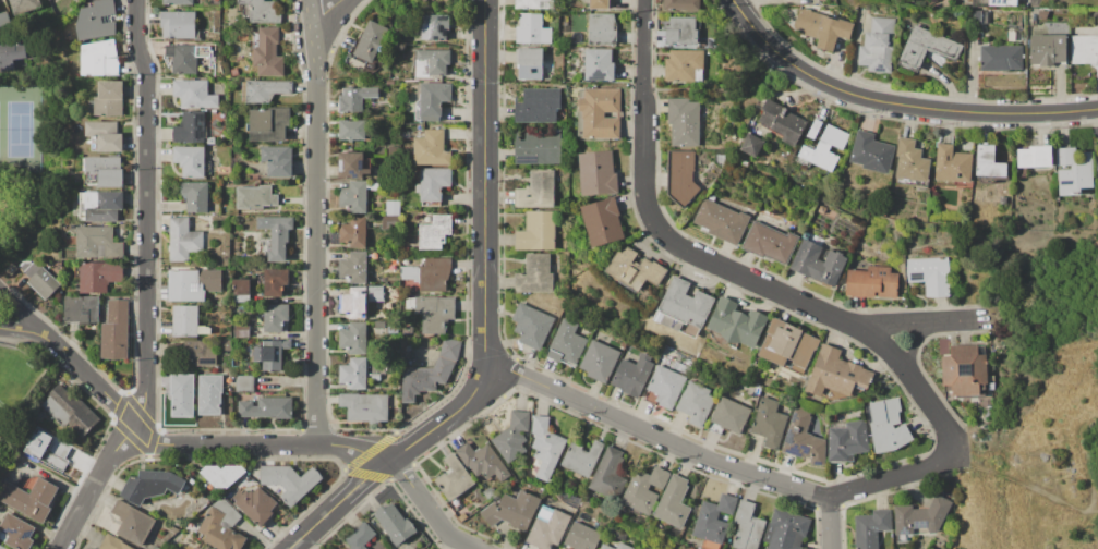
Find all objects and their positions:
building: (50, 0)
building: (424, 0)
building: (431, 0)
building: (178, 2)
building: (1002, 2)
building: (532, 3)
building: (599, 4)
building: (680, 4)
building: (25, 5)
building: (261, 11)
road: (326, 13)
building: (1042, 13)
building: (998, 14)
building: (977, 15)
building: (987, 16)
building: (4, 19)
building: (97, 20)
building: (178, 25)
building: (433, 26)
building: (821, 27)
building: (601, 28)
building: (531, 29)
building: (681, 33)
building: (372, 41)
building: (878, 45)
building: (1084, 45)
building: (926, 47)
building: (1047, 50)
building: (12, 51)
building: (268, 53)
building: (185, 57)
building: (1001, 57)
building: (100, 58)
building: (433, 61)
building: (531, 64)
building: (598, 64)
building: (684, 65)
building: (266, 89)
building: (194, 93)
building: (109, 98)
building: (355, 98)
building: (434, 100)
road: (896, 103)
building: (536, 106)
building: (600, 112)
building: (683, 121)
building: (782, 122)
building: (268, 124)
building: (191, 127)
building: (813, 127)
building: (352, 130)
building: (104, 136)
building: (210, 141)
park: (27, 144)
building: (751, 145)
building: (430, 147)
building: (535, 147)
building: (823, 148)
building: (871, 151)
building: (393, 152)
building: (1035, 156)
building: (278, 160)
building: (192, 161)
building: (912, 163)
building: (988, 164)
building: (353, 166)
building: (953, 166)
building: (1097, 168)
building: (1073, 170)
building: (104, 172)
building: (596, 172)
road: (5, 173)
building: (680, 175)
building: (1097, 181)
building: (433, 185)
building: (536, 190)
building: (196, 196)
building: (355, 196)
building: (255, 197)
building: (376, 204)
building: (100, 206)
building: (394, 208)
road: (146, 213)
building: (721, 220)
building: (602, 221)
road: (317, 222)
building: (390, 222)
building: (354, 232)
building: (435, 232)
building: (536, 232)
building: (278, 237)
building: (183, 240)
building: (769, 242)
building: (93, 243)
road: (692, 252)
building: (818, 263)
building: (353, 267)
building: (635, 269)
building: (429, 274)
building: (535, 274)
building: (930, 274)
building: (98, 276)
building: (275, 282)
building: (871, 282)
building: (44, 283)
building: (192, 283)
building: (241, 290)
building: (360, 301)
building: (683, 307)
building: (82, 309)
road: (19, 310)
building: (433, 313)
park: (14, 316)
building: (275, 317)
road: (487, 317)
building: (184, 320)
road: (925, 321)
building: (736, 322)
building: (531, 326)
road: (16, 329)
building: (114, 330)
building: (407, 330)
building: (241, 331)
building: (354, 338)
building: (567, 343)
building: (786, 345)
road: (916, 345)
building: (203, 352)
building: (272, 354)
building: (599, 361)
building: (964, 371)
building: (430, 373)
building: (835, 373)
building: (353, 374)
building: (632, 375)
road: (88, 376)
building: (375, 377)
building: (244, 383)
building: (668, 383)
building: (209, 393)
building: (182, 395)
building: (695, 403)
building: (267, 407)
building: (365, 407)
building: (69, 411)
building: (728, 416)
building: (769, 422)
building: (885, 425)
building: (512, 437)
building: (803, 437)
building: (846, 440)
park: (1053, 441)
road: (192, 443)
building: (546, 447)
building: (47, 449)
building: (581, 459)
building: (483, 461)
road: (751, 473)
building: (608, 475)
building: (221, 476)
building: (454, 478)
building: (288, 483)
building: (150, 485)
building: (644, 489)
building: (488, 493)
building: (29, 497)
building: (674, 503)
building: (255, 505)
road: (432, 510)
building: (511, 510)
building: (920, 516)
building: (462, 517)
building: (714, 518)
building: (394, 522)
building: (133, 523)
road: (833, 523)
building: (221, 526)
building: (748, 526)
building: (547, 528)
building: (870, 528)
building: (786, 530)
building: (16, 532)
building: (360, 536)
building: (582, 537)
building: (112, 542)
building: (623, 546)
building: (605, 547)
building: (1, 548)
building: (155, 548)
building: (808, 548)

